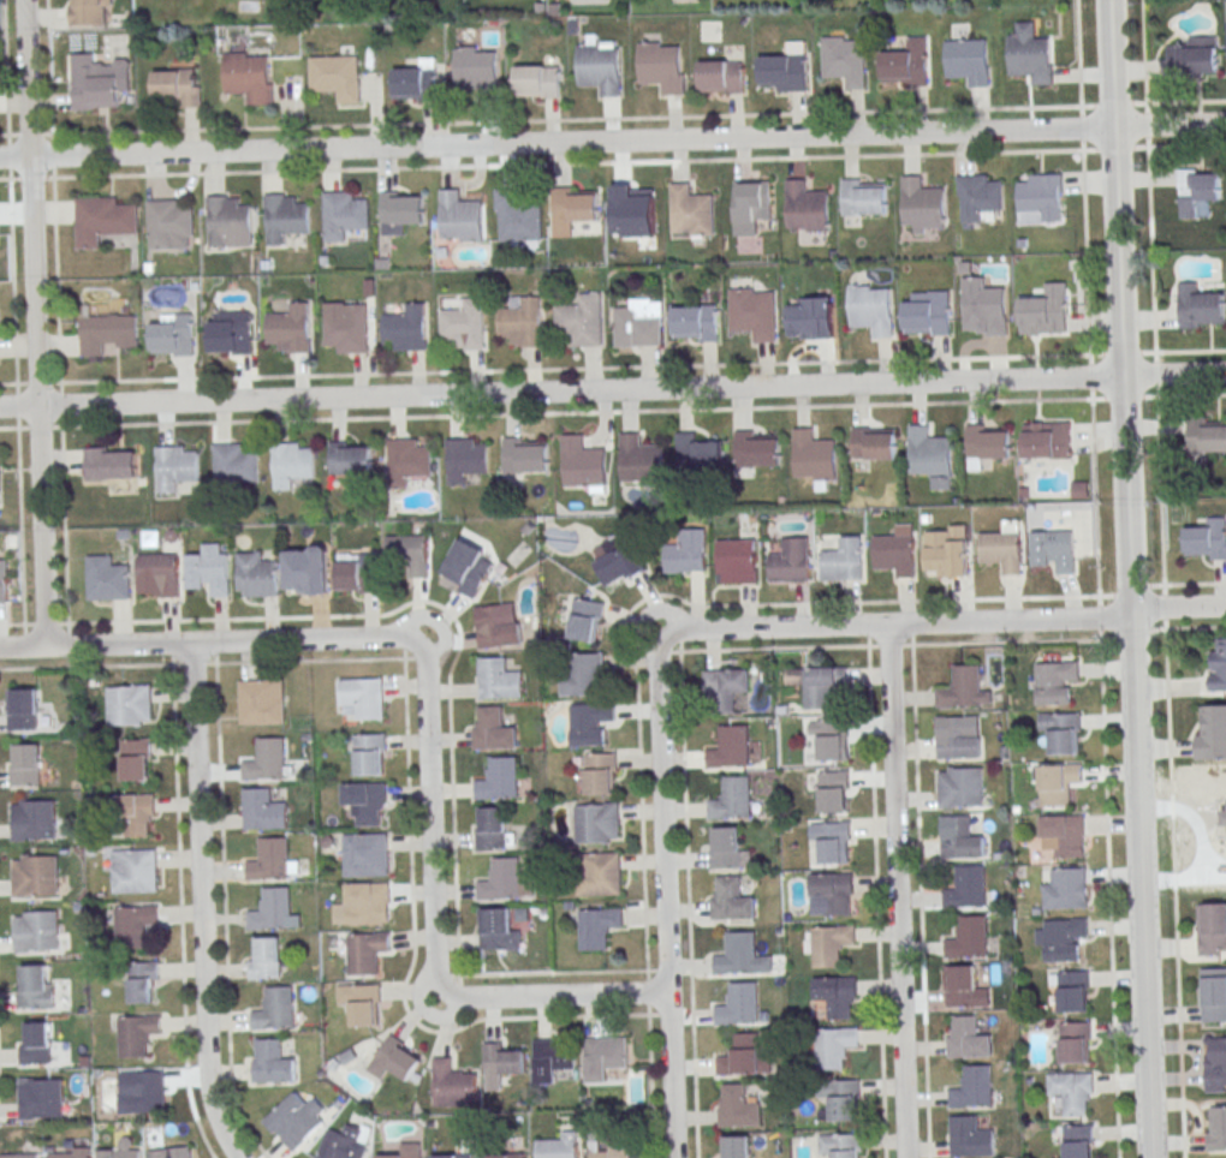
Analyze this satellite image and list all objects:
building: (90, 12)
building: (1030, 55)
road: (1144, 55)
road: (1078, 56)
building: (1194, 56)
building: (844, 60)
building: (968, 60)
building: (906, 64)
road: (48, 66)
building: (662, 67)
building: (786, 68)
building: (601, 70)
building: (477, 71)
building: (721, 74)
building: (337, 76)
building: (249, 77)
building: (537, 80)
building: (416, 82)
building: (178, 85)
road: (5, 89)
building: (96, 91)
road: (1186, 102)
road: (1112, 103)
road: (1139, 103)
road: (1087, 106)
road: (520, 120)
road: (1147, 125)
road: (1081, 127)
road: (24, 133)
road: (613, 141)
road: (1186, 145)
road: (1142, 147)
road: (1114, 148)
road: (1088, 150)
road: (851, 156)
road: (464, 166)
road: (4, 178)
building: (1198, 192)
building: (978, 195)
building: (862, 197)
building: (1040, 198)
building: (751, 201)
building: (922, 202)
building: (805, 205)
building: (400, 209)
building: (573, 209)
building: (690, 209)
building: (631, 210)
building: (343, 215)
building: (517, 215)
building: (459, 216)
building: (286, 219)
building: (102, 220)
building: (228, 221)
building: (168, 225)
road: (1085, 247)
road: (1151, 249)
road: (12, 287)
building: (983, 303)
building: (1201, 305)
building: (870, 309)
building: (752, 312)
building: (928, 312)
building: (1043, 314)
building: (813, 318)
building: (581, 321)
building: (696, 321)
road: (34, 323)
building: (639, 323)
building: (522, 324)
building: (463, 326)
building: (345, 327)
building: (288, 328)
building: (405, 328)
building: (107, 332)
building: (232, 335)
building: (174, 336)
road: (1190, 351)
road: (1121, 352)
road: (1149, 352)
road: (1090, 358)
road: (513, 369)
road: (1155, 374)
road: (1090, 377)
road: (613, 389)
road: (1191, 395)
road: (1123, 396)
road: (1151, 396)
road: (581, 412)
road: (8, 428)
building: (1207, 436)
building: (1046, 440)
building: (874, 443)
building: (987, 443)
building: (757, 449)
building: (698, 450)
building: (929, 452)
building: (525, 454)
building: (814, 454)
building: (351, 458)
building: (465, 458)
building: (641, 459)
building: (407, 460)
building: (583, 461)
building: (112, 462)
building: (293, 462)
building: (234, 465)
building: (177, 466)
building: (0, 483)
road: (1095, 497)
road: (63, 502)
road: (20, 525)
building: (1207, 539)
building: (405, 548)
building: (1002, 548)
building: (1054, 549)
building: (946, 550)
building: (686, 551)
building: (895, 551)
building: (618, 559)
building: (737, 561)
building: (791, 561)
building: (843, 561)
building: (469, 567)
building: (208, 569)
building: (306, 569)
building: (356, 572)
building: (159, 574)
building: (256, 575)
road: (1129, 578)
building: (107, 579)
road: (1195, 583)
building: (4, 586)
road: (1120, 596)
road: (413, 601)
road: (682, 601)
road: (1099, 616)
building: (587, 620)
road: (944, 622)
building: (498, 625)
road: (1189, 628)
road: (911, 631)
road: (1132, 634)
road: (679, 637)
road: (403, 643)
road: (885, 645)
road: (215, 649)
road: (172, 650)
road: (315, 659)
road: (194, 663)
road: (89, 665)
building: (1219, 667)
building: (584, 675)
building: (498, 679)
building: (1054, 681)
building: (819, 685)
building: (725, 688)
building: (964, 688)
building: (363, 697)
building: (261, 700)
building: (131, 705)
building: (24, 709)
road: (425, 721)
building: (589, 723)
building: (493, 730)
building: (1061, 732)
building: (1212, 734)
building: (958, 736)
building: (831, 738)
building: (730, 747)
building: (370, 754)
building: (136, 758)
building: (266, 759)
building: (26, 764)
building: (601, 774)
road: (1170, 774)
building: (499, 780)
building: (1057, 783)
building: (960, 787)
building: (829, 790)
building: (732, 799)
building: (365, 800)
building: (263, 810)
building: (131, 814)
building: (34, 819)
building: (596, 822)
building: (493, 828)
building: (1064, 835)
building: (962, 836)
building: (832, 841)
building: (727, 850)
building: (365, 854)
building: (270, 859)
building: (135, 871)
building: (600, 873)
building: (36, 875)
building: (501, 879)
building: (966, 888)
building: (1065, 889)
road: (876, 891)
road: (895, 891)
building: (831, 894)
road: (1108, 895)
road: (663, 897)
road: (919, 899)
road: (689, 900)
building: (731, 900)
building: (368, 901)
road: (200, 903)
road: (180, 909)
building: (270, 909)
road: (224, 911)
building: (133, 924)
building: (597, 927)
building: (1210, 929)
building: (499, 930)
building: (37, 931)
building: (969, 937)
building: (1061, 938)
building: (829, 944)
building: (367, 951)
building: (740, 955)
building: (267, 956)
road: (410, 967)
road: (558, 972)
road: (441, 975)
building: (143, 980)
building: (960, 985)
building: (36, 987)
building: (1072, 990)
road: (459, 991)
road: (648, 992)
building: (835, 995)
building: (1213, 995)
building: (361, 1003)
building: (738, 1004)
building: (275, 1010)
building: (137, 1034)
building: (968, 1039)
building: (37, 1043)
building: (1075, 1043)
building: (834, 1047)
building: (740, 1055)
building: (603, 1057)
building: (395, 1058)
building: (550, 1061)
building: (272, 1062)
building: (1215, 1062)
building: (500, 1064)
road: (650, 1082)
building: (452, 1084)
building: (972, 1087)
building: (144, 1090)
building: (1072, 1091)
building: (42, 1097)
building: (844, 1100)
building: (737, 1106)
building: (297, 1117)
building: (1216, 1128)
building: (970, 1136)
building: (1078, 1141)
building: (344, 1144)
building: (559, 1146)
building: (840, 1146)
building: (734, 1147)
building: (609, 1148)
building: (123, 1151)
building: (405, 1151)
building: (69, 1152)
building: (171, 1152)
building: (451, 1156)
building: (505, 1156)
building: (22, 1157)

